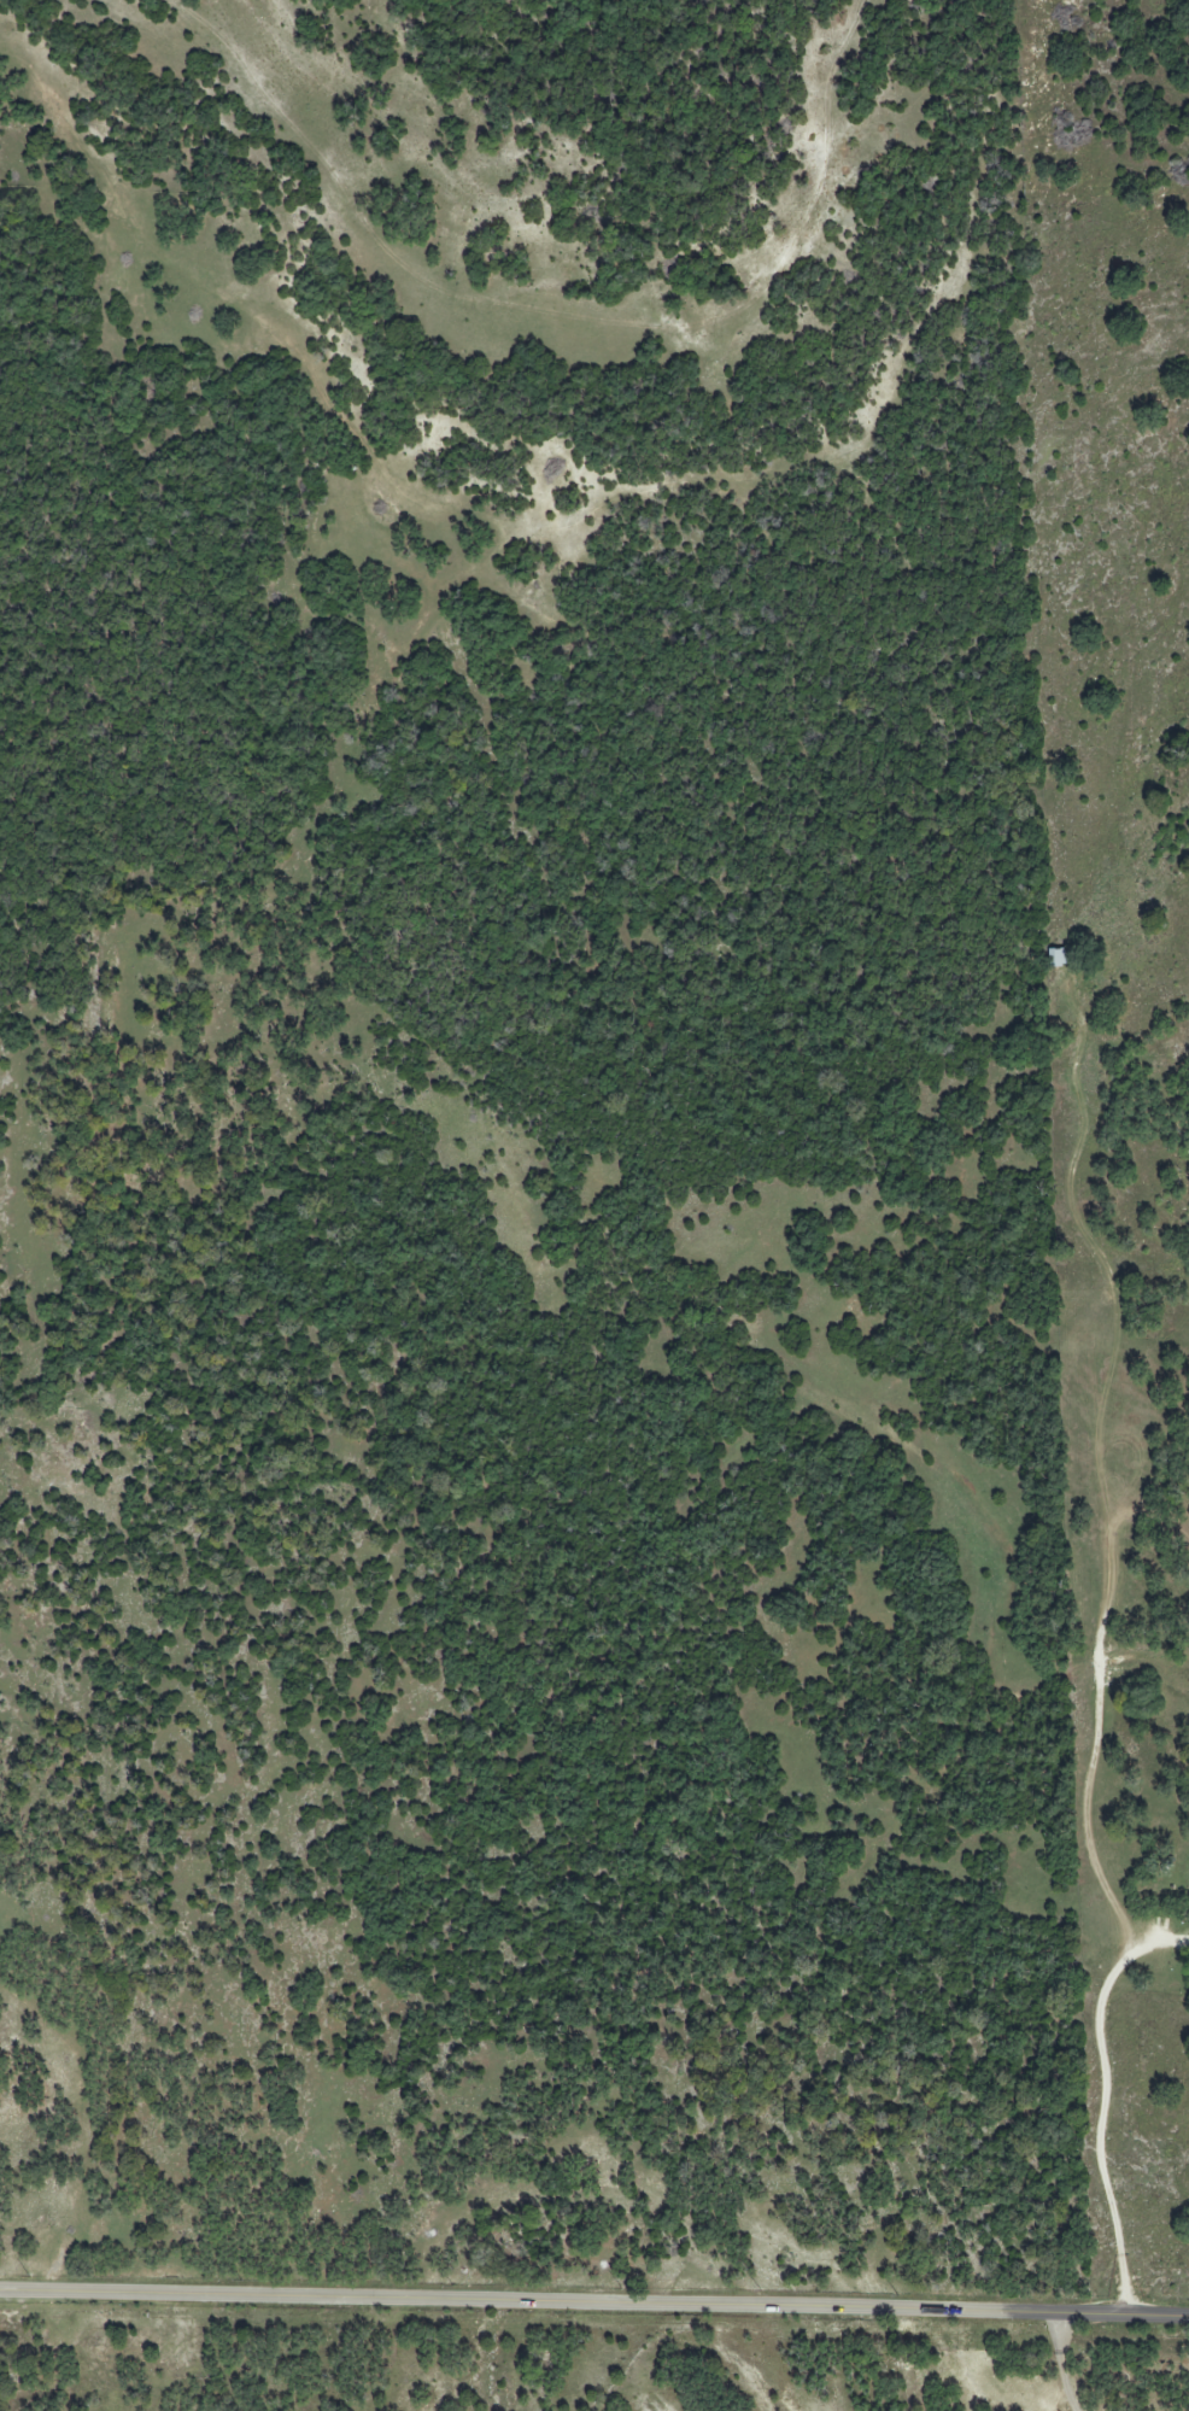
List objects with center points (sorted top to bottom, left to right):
road: (1102, 2106)
road: (594, 2304)
road: (1065, 2363)

